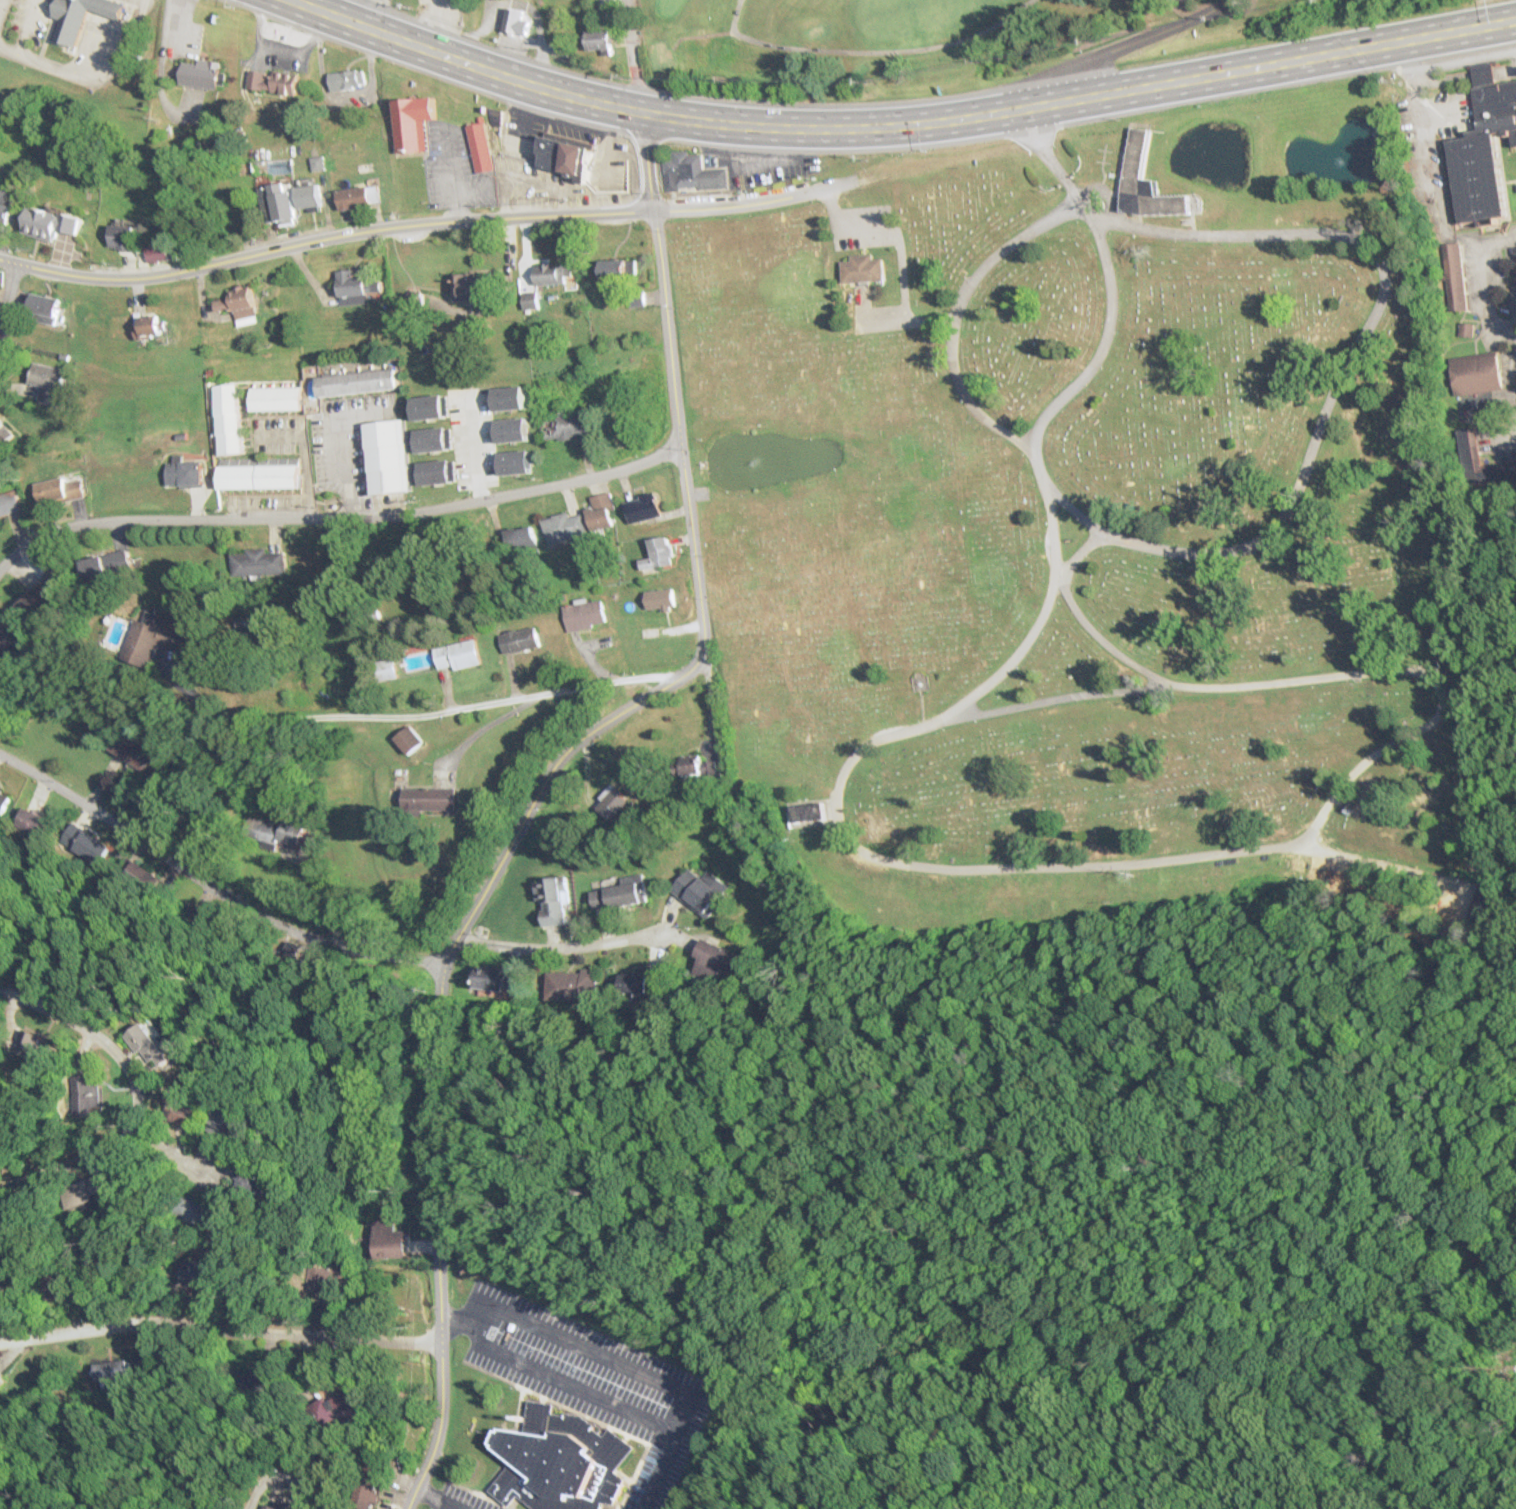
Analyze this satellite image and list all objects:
building: (78, 15)
building: (515, 23)
road: (702, 34)
park: (903, 36)
building: (598, 40)
road: (1118, 46)
road: (867, 50)
road: (1316, 54)
road: (638, 55)
road: (466, 61)
building: (201, 72)
building: (342, 77)
building: (270, 80)
building: (493, 115)
building: (410, 120)
road: (880, 126)
building: (477, 145)
building: (1483, 149)
building: (565, 152)
road: (644, 159)
road: (1051, 161)
building: (688, 171)
building: (1145, 182)
building: (541, 184)
parking lot: (541, 184)
road: (1102, 191)
building: (308, 197)
building: (357, 198)
road: (754, 199)
building: (277, 203)
building: (5, 207)
building: (49, 224)
parking lot: (860, 225)
road: (323, 237)
building: (122, 239)
building: (156, 253)
building: (861, 267)
building: (615, 271)
building: (546, 275)
building: (1454, 277)
building: (355, 283)
building: (477, 285)
road: (7, 294)
building: (530, 301)
building: (237, 307)
building: (43, 309)
road: (955, 313)
road: (666, 325)
building: (147, 327)
building: (1475, 373)
building: (46, 382)
building: (347, 383)
building: (274, 400)
building: (227, 420)
building: (566, 427)
building: (1470, 450)
building: (387, 457)
building: (183, 473)
building: (257, 478)
building: (58, 491)
building: (9, 503)
building: (641, 508)
road: (1073, 510)
road: (337, 512)
building: (599, 512)
building: (0, 528)
building: (562, 528)
park: (1085, 532)
building: (519, 539)
building: (657, 555)
building: (257, 563)
road: (694, 563)
building: (91, 570)
road: (1059, 572)
building: (47, 590)
building: (659, 600)
building: (584, 616)
building: (114, 629)
building: (8, 641)
building: (145, 641)
building: (519, 641)
building: (457, 656)
building: (417, 663)
building: (385, 671)
road: (1147, 671)
road: (1055, 697)
road: (461, 706)
building: (407, 741)
building: (133, 750)
building: (689, 765)
building: (438, 799)
building: (4, 803)
building: (612, 803)
building: (807, 811)
building: (33, 822)
building: (279, 831)
road: (1384, 864)
building: (699, 890)
building: (621, 893)
building: (550, 901)
building: (1482, 901)
road: (563, 946)
road: (385, 955)
building: (716, 962)
building: (497, 979)
building: (642, 984)
building: (572, 985)
building: (25, 1044)
building: (142, 1046)
road: (134, 1093)
building: (77, 1094)
building: (174, 1106)
building: (215, 1121)
road: (165, 1149)
building: (85, 1191)
road: (436, 1237)
building: (390, 1241)
building: (194, 1272)
building: (59, 1286)
road: (215, 1324)
road: (436, 1340)
road: (581, 1346)
parking lot: (591, 1380)
road: (604, 1399)
building: (337, 1409)
building: (558, 1461)
road: (276, 1474)
building: (365, 1483)
road: (436, 1499)
parking lot: (460, 1499)
building: (193, 1506)
building: (265, 1507)

